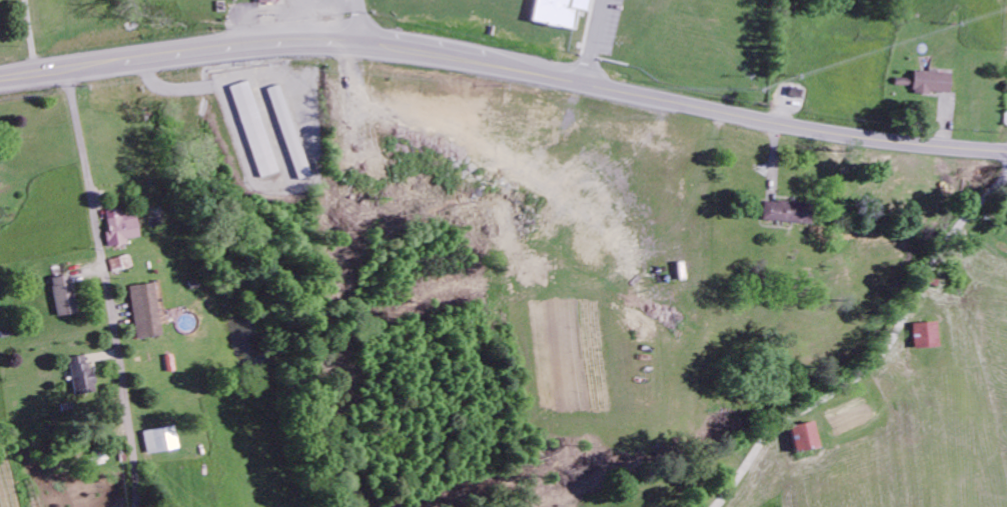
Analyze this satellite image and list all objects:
building: (268, 2)
building: (558, 13)
road: (362, 22)
road: (311, 42)
road: (625, 45)
building: (932, 84)
road: (813, 129)
building: (254, 131)
building: (289, 134)
building: (788, 214)
building: (120, 230)
building: (120, 266)
building: (537, 273)
road: (106, 288)
building: (65, 297)
building: (144, 312)
building: (926, 337)
building: (82, 376)
building: (805, 439)
building: (159, 442)

